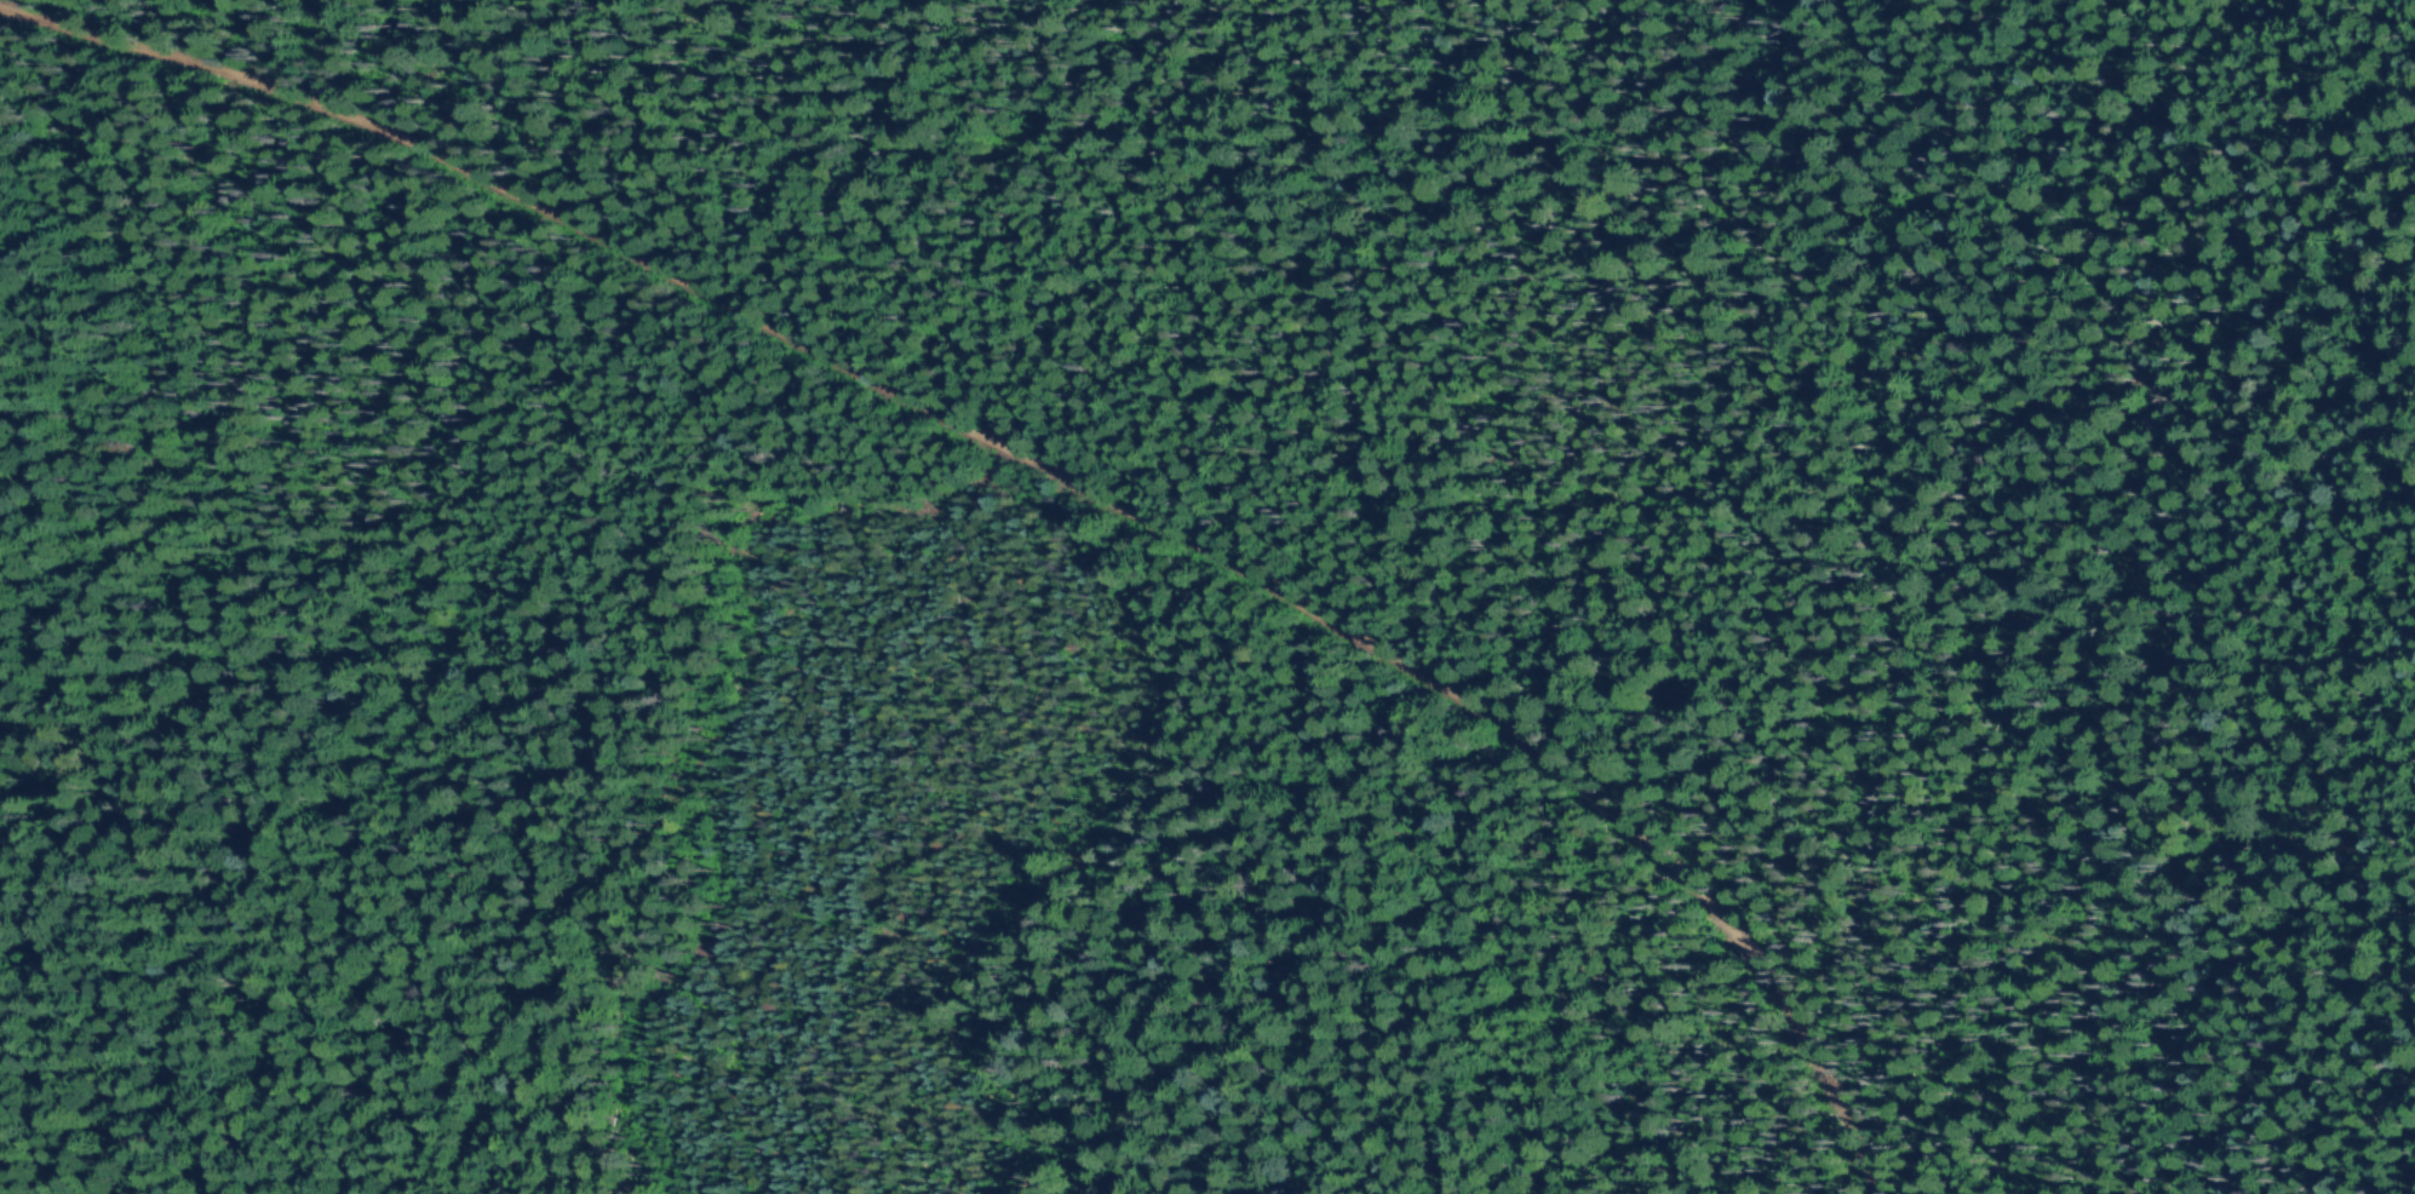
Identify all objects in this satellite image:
road: (1045, 459)

